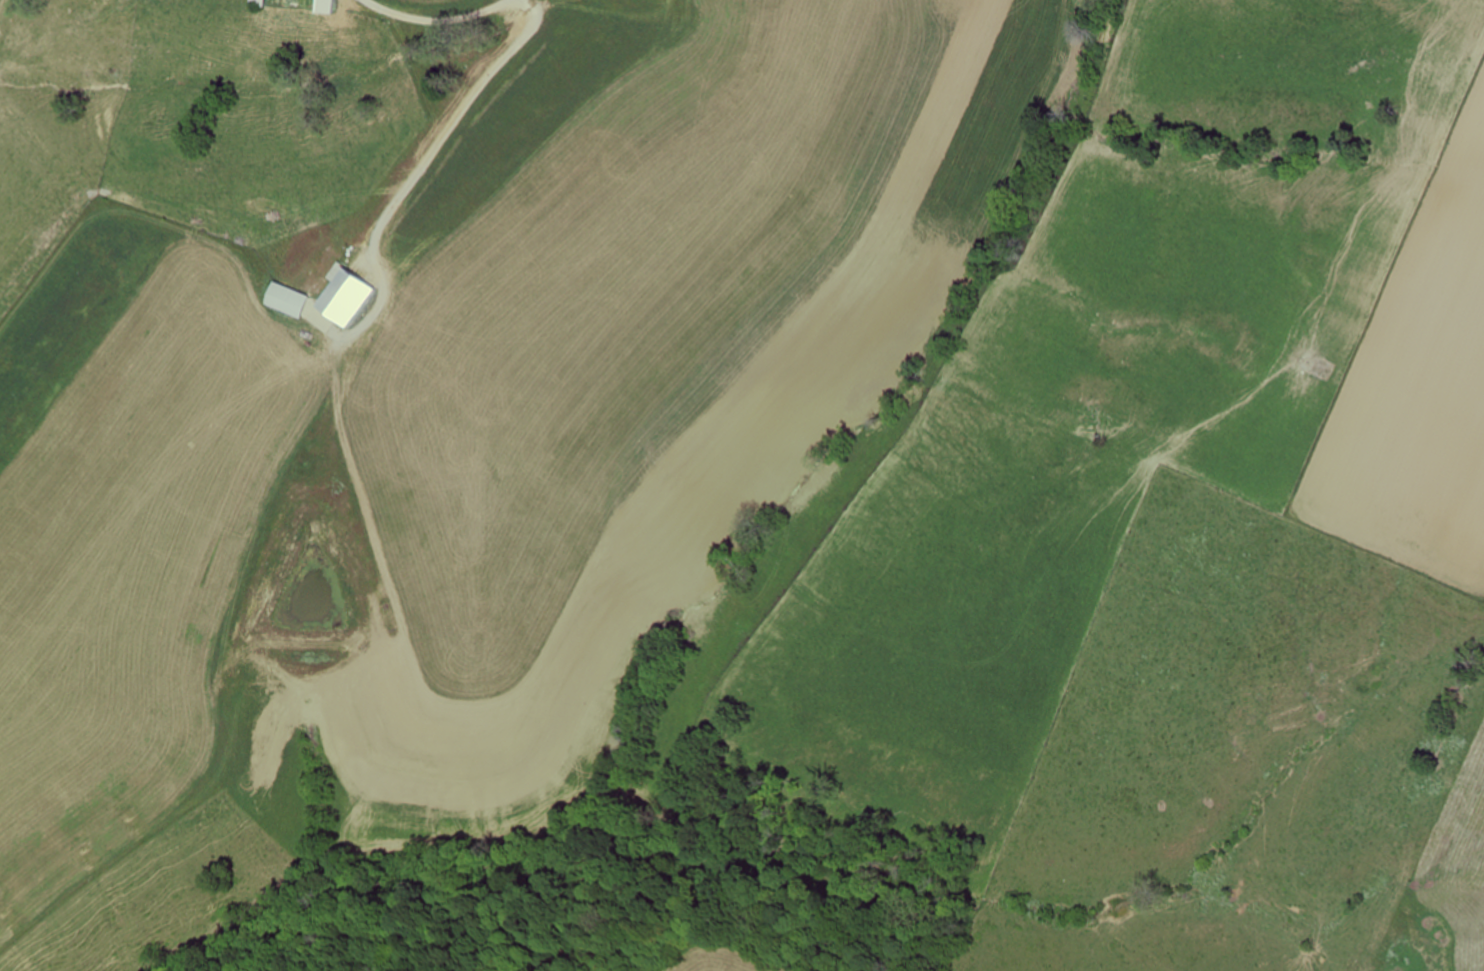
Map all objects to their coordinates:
building: (307, 4)
building: (354, 293)
building: (295, 300)

